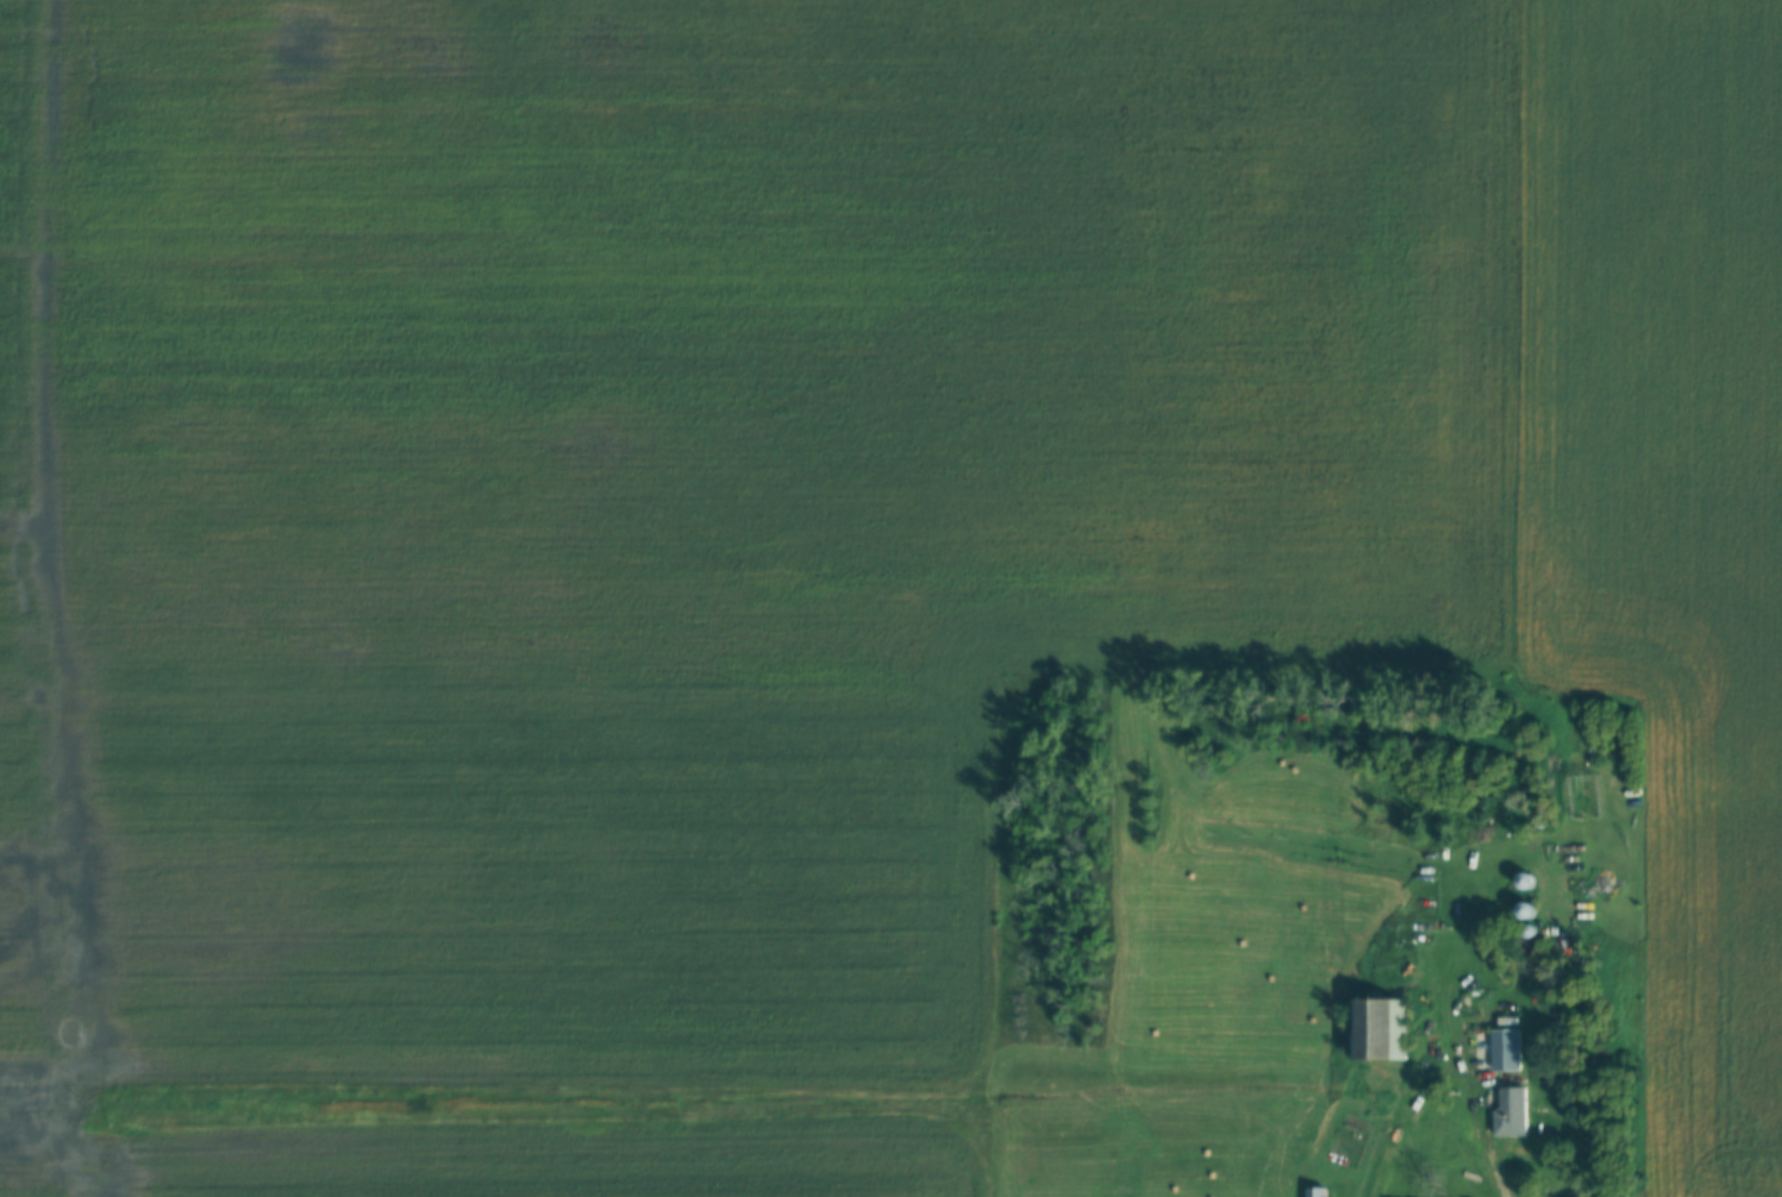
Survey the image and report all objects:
building: (1376, 1029)
building: (1503, 1051)
building: (1508, 1113)
road: (1403, 1124)
road: (1493, 1176)
building: (1315, 1191)

